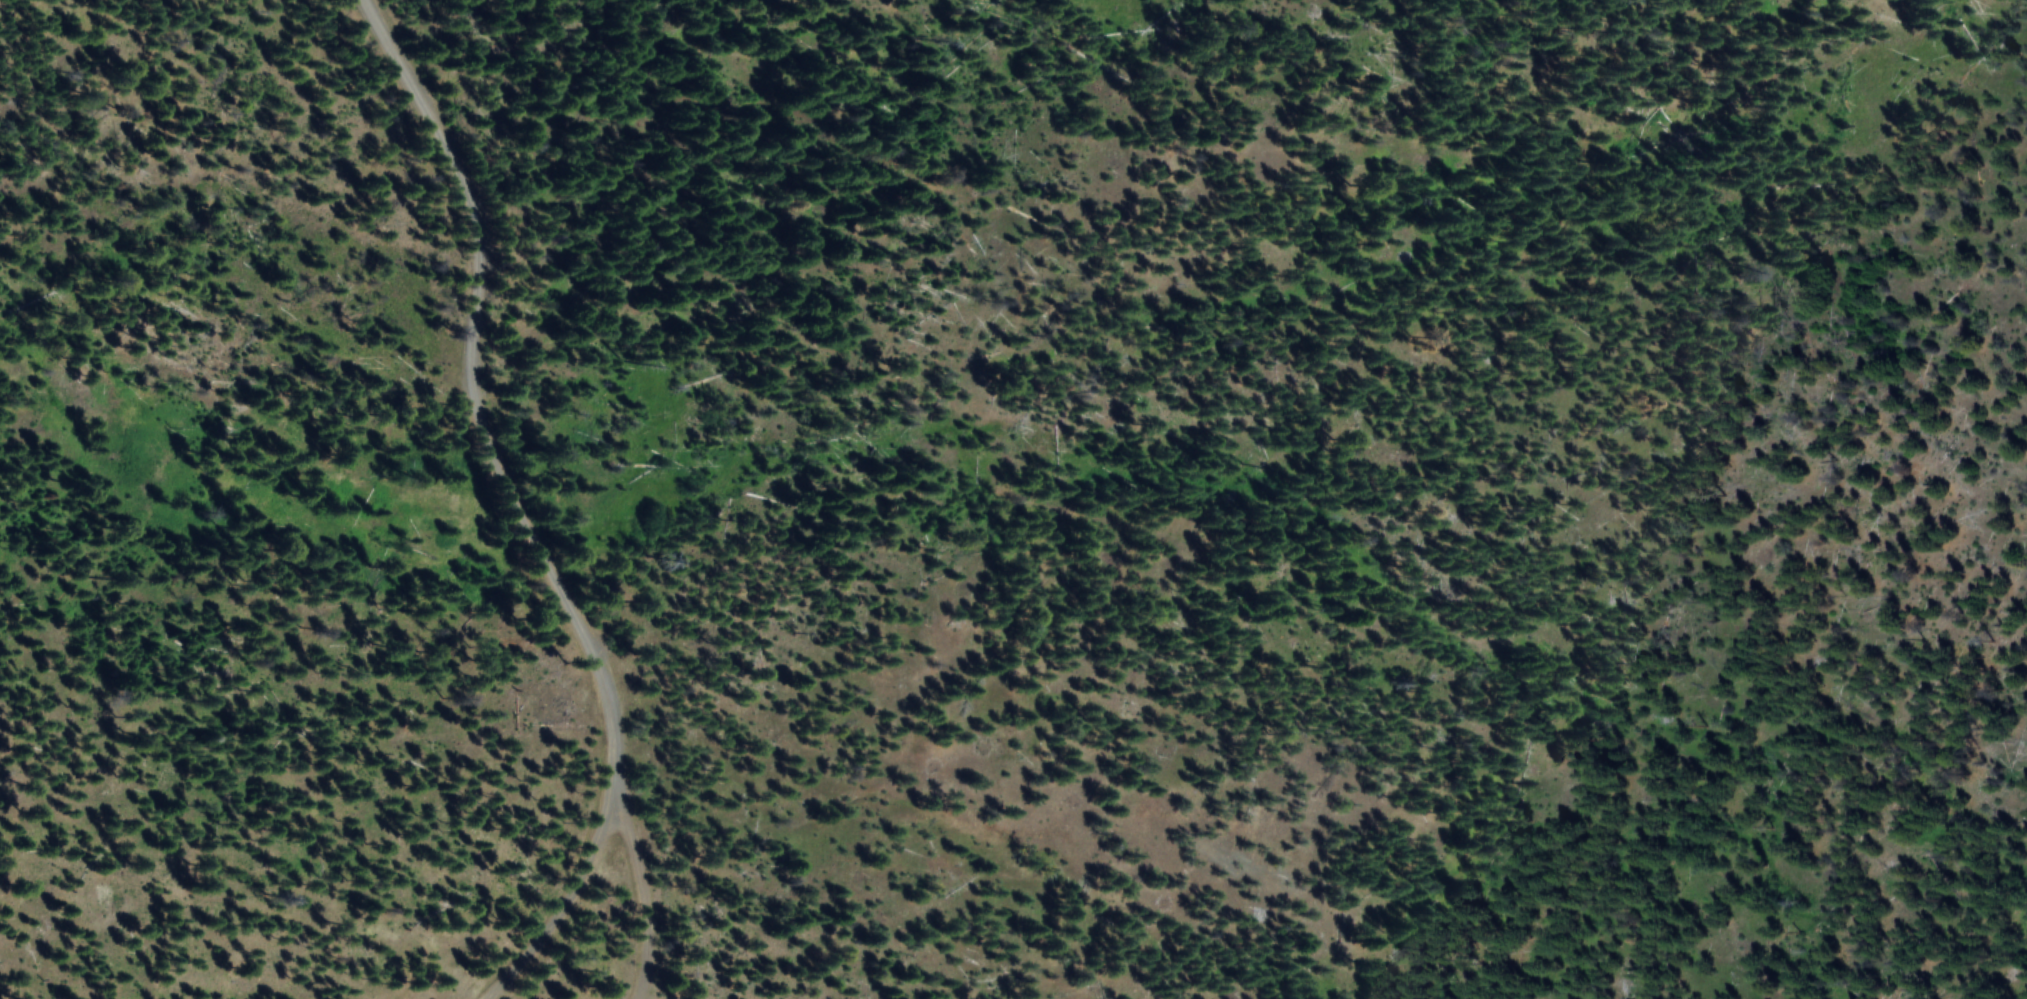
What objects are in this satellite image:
road: (516, 512)
road: (636, 878)

